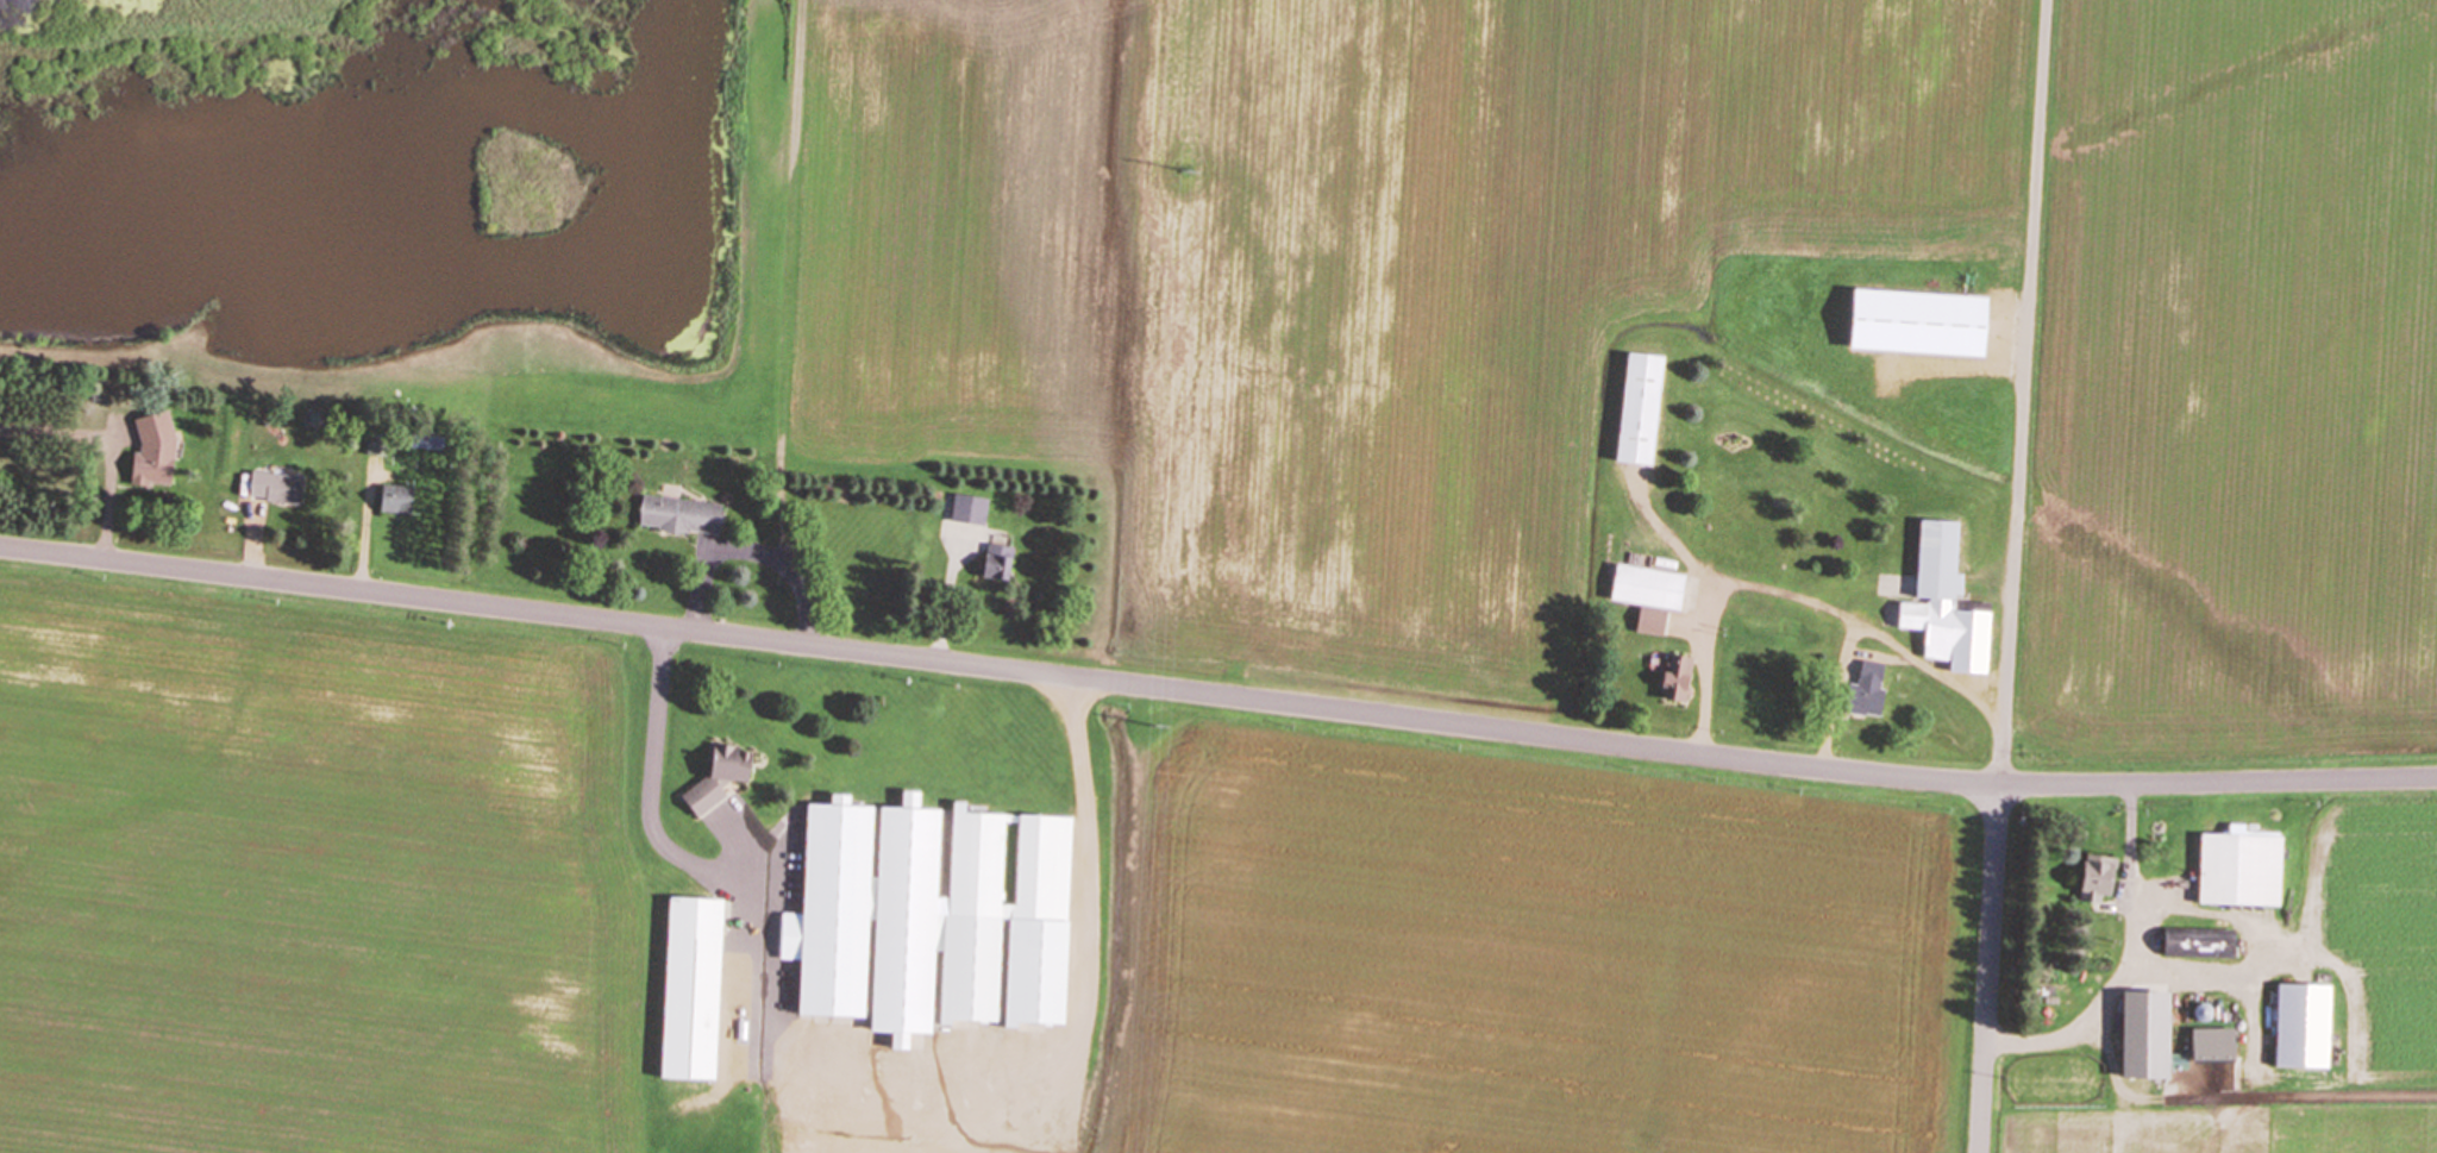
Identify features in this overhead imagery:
power tower: (1188, 174)
building: (1941, 330)
building: (1644, 411)
road: (105, 451)
building: (158, 452)
building: (280, 489)
building: (402, 502)
building: (972, 510)
building: (685, 518)
road: (365, 537)
road: (746, 554)
road: (253, 556)
building: (1001, 564)
road: (2007, 576)
building: (1652, 597)
building: (1950, 606)
road: (945, 607)
road: (1874, 637)
building: (1754, 675)
road: (1703, 682)
building: (1681, 684)
building: (1869, 691)
road: (1216, 696)
power tower: (1155, 727)
road: (1765, 738)
building: (725, 779)
road: (650, 781)
building: (2245, 872)
crop: (312, 873)
road: (1088, 878)
building: (2101, 878)
building: (938, 919)
building: (2201, 944)
crop: (1522, 947)
road: (2126, 964)
building: (697, 990)
building: (2306, 1027)
building: (2155, 1036)

